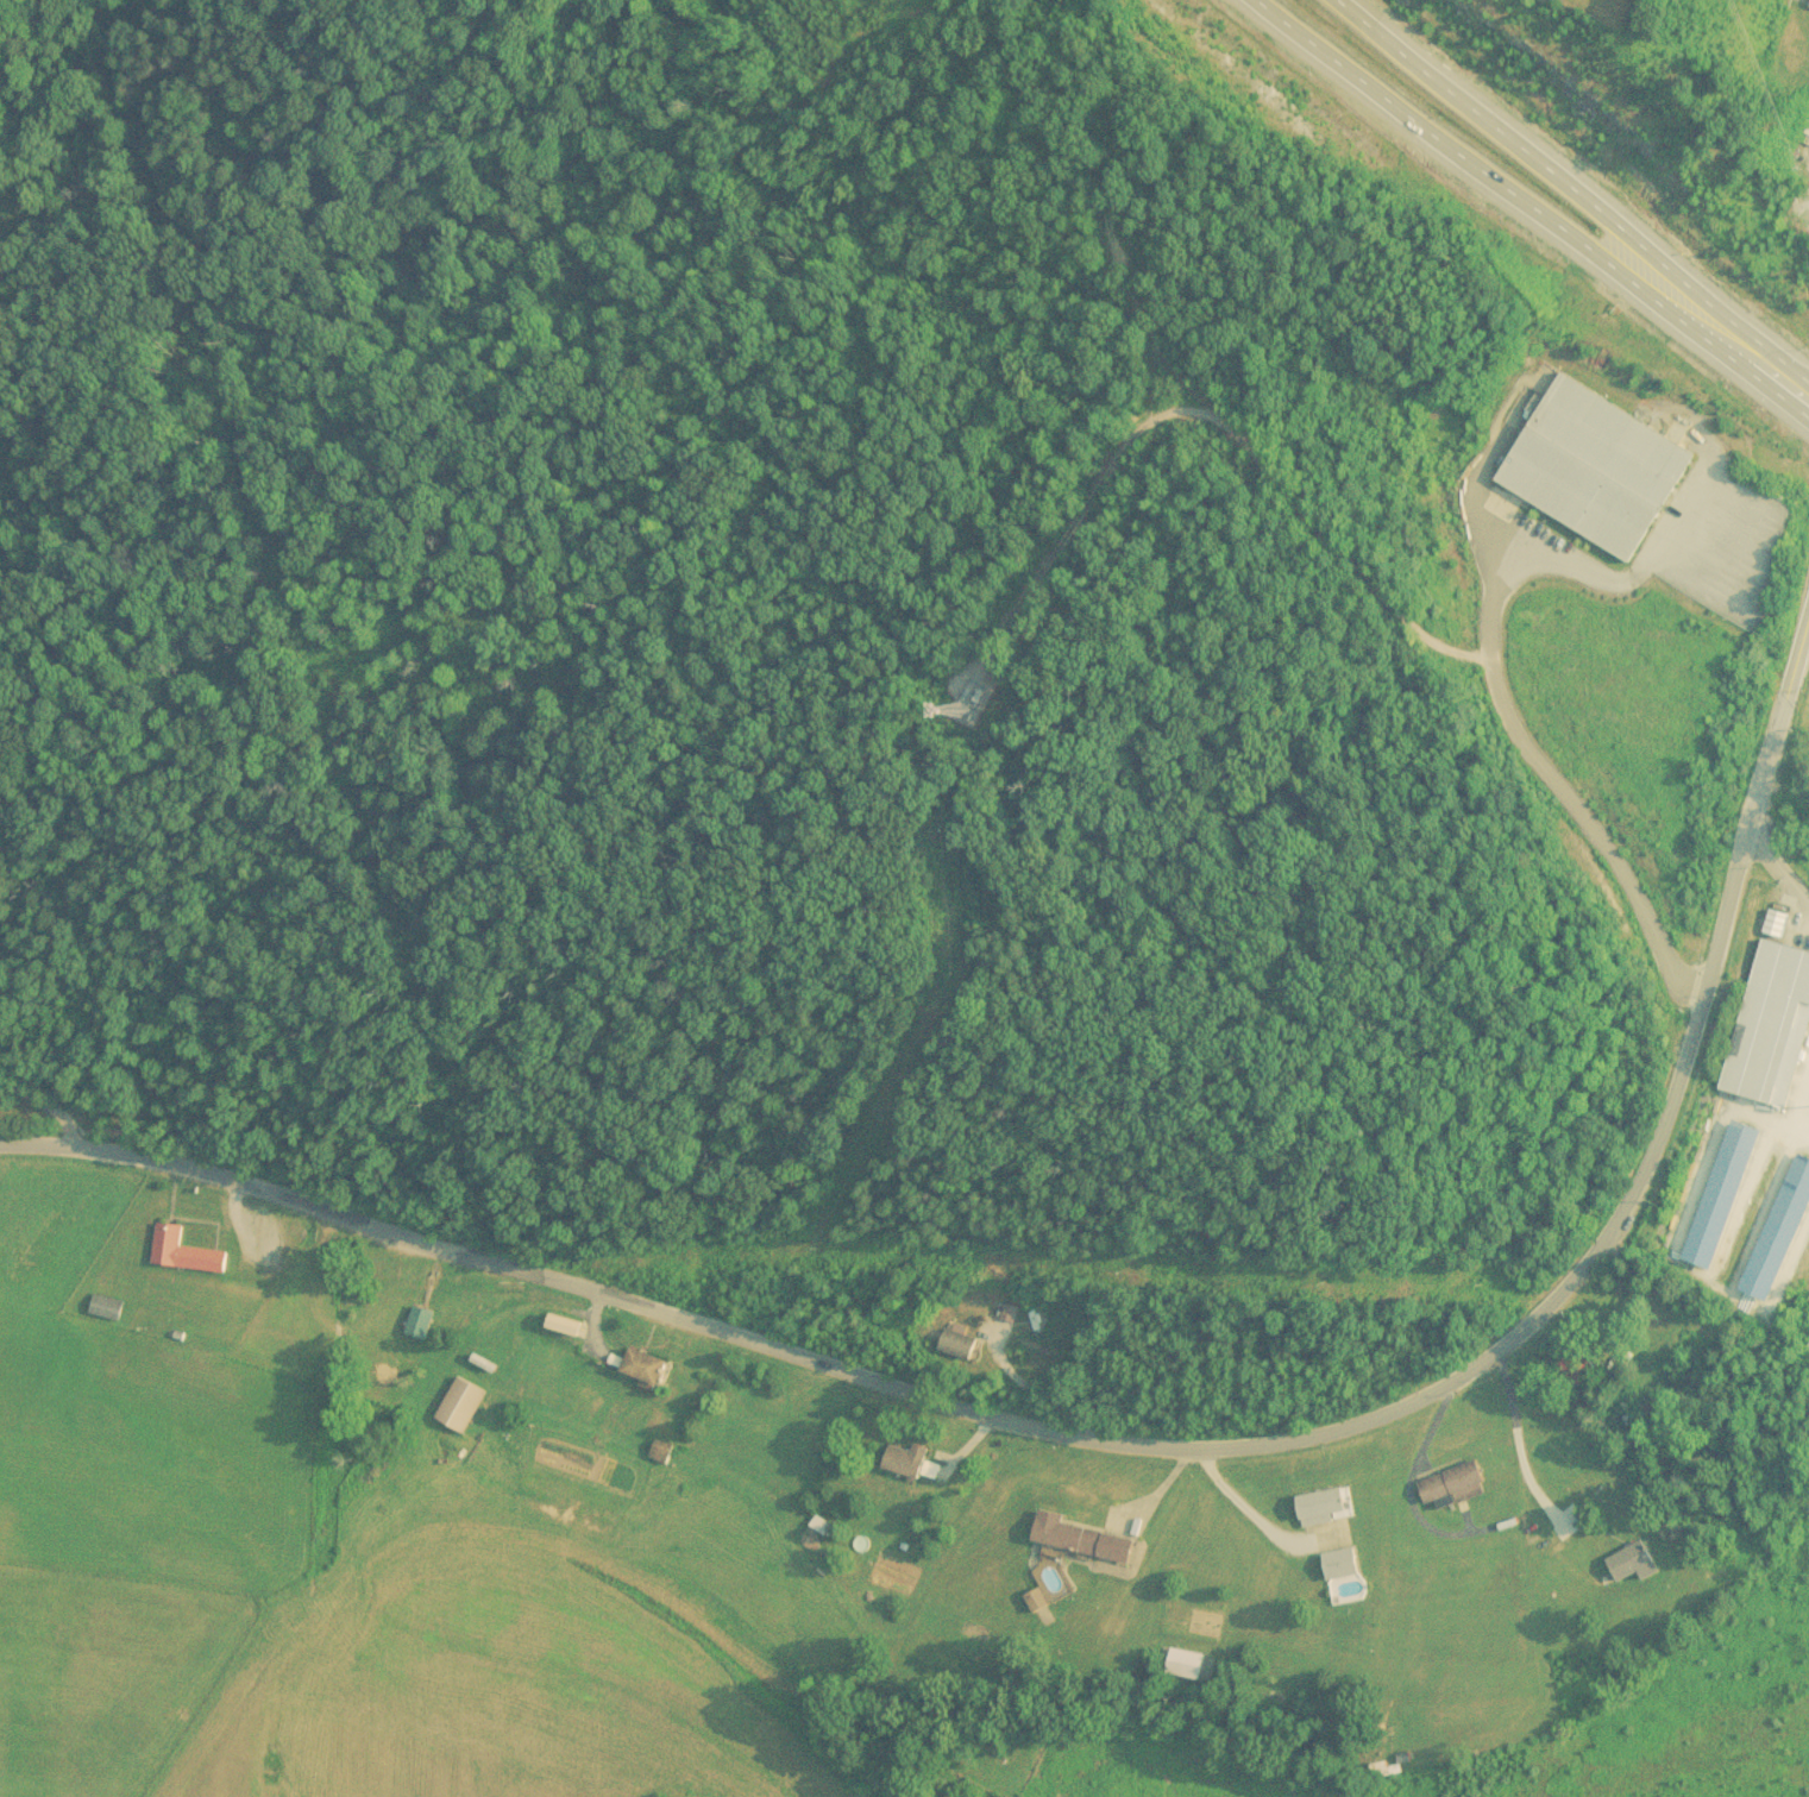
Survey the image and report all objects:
road: (1572, 194)
road: (1527, 205)
road: (1221, 423)
building: (1594, 469)
road: (1493, 689)
building: (1771, 1028)
road: (45, 1101)
building: (1721, 1195)
building: (1779, 1231)
building: (182, 1252)
building: (105, 1308)
building: (417, 1324)
building: (959, 1346)
building: (1807, 1355)
building: (642, 1370)
building: (459, 1406)
building: (1635, 1418)
road: (1145, 1443)
building: (660, 1452)
building: (904, 1462)
building: (1451, 1484)
building: (1319, 1506)
building: (1079, 1538)
building: (1633, 1562)
building: (1339, 1563)
building: (1183, 1663)

